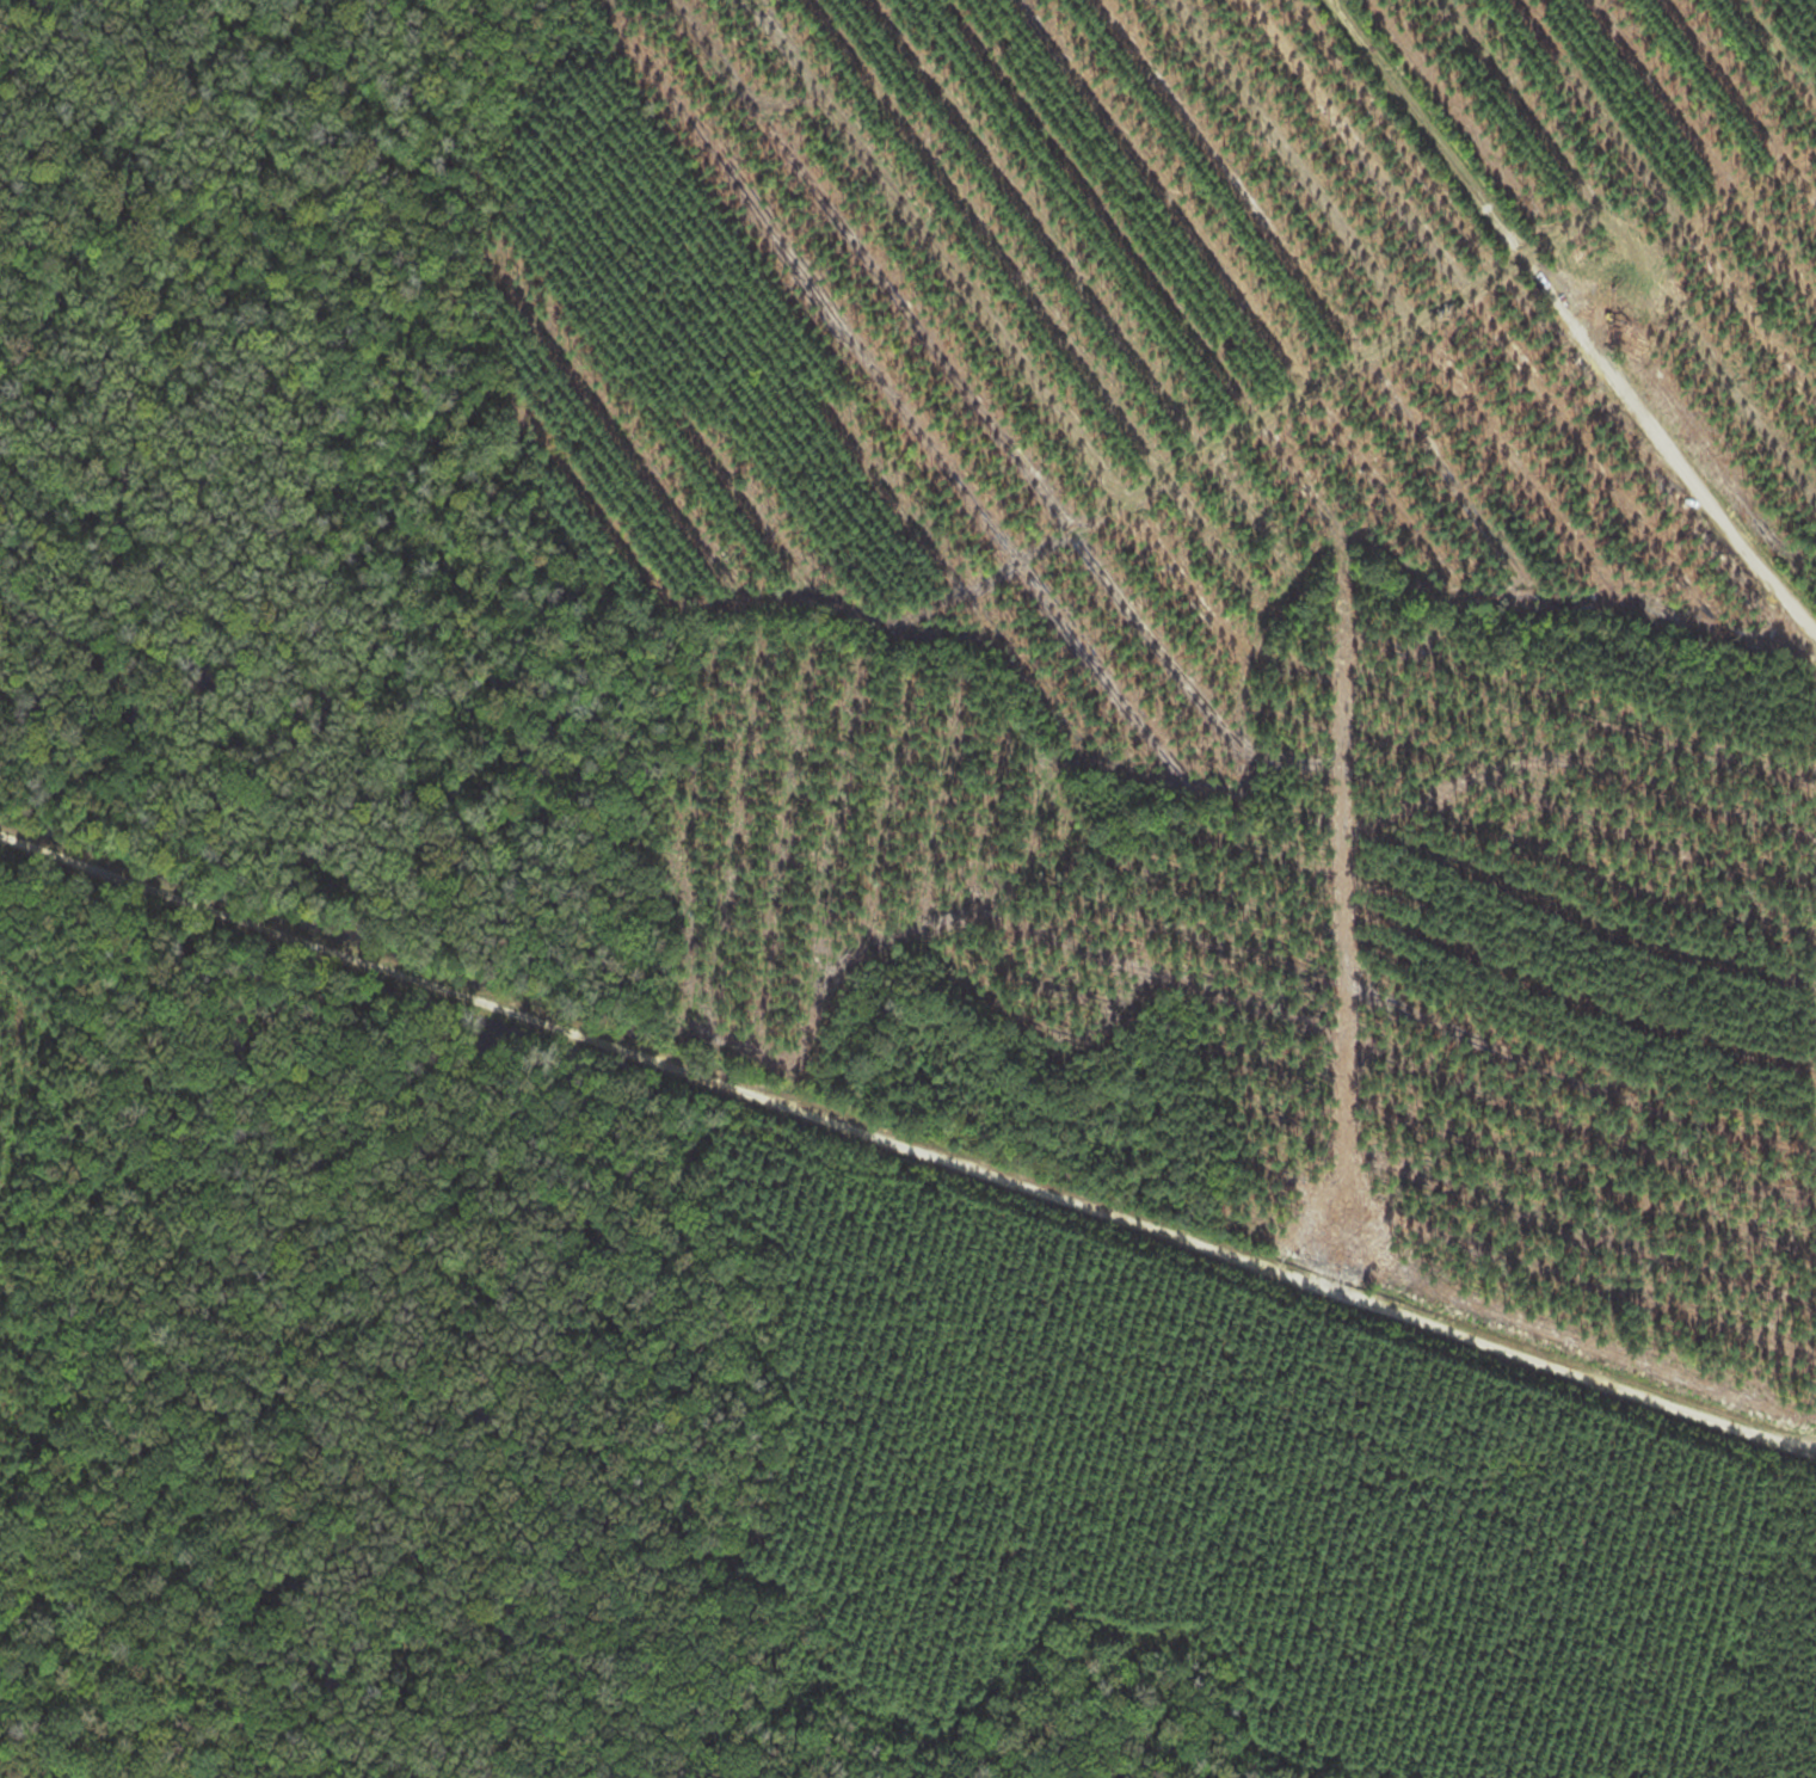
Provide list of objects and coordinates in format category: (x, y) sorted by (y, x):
road: (907, 1149)

